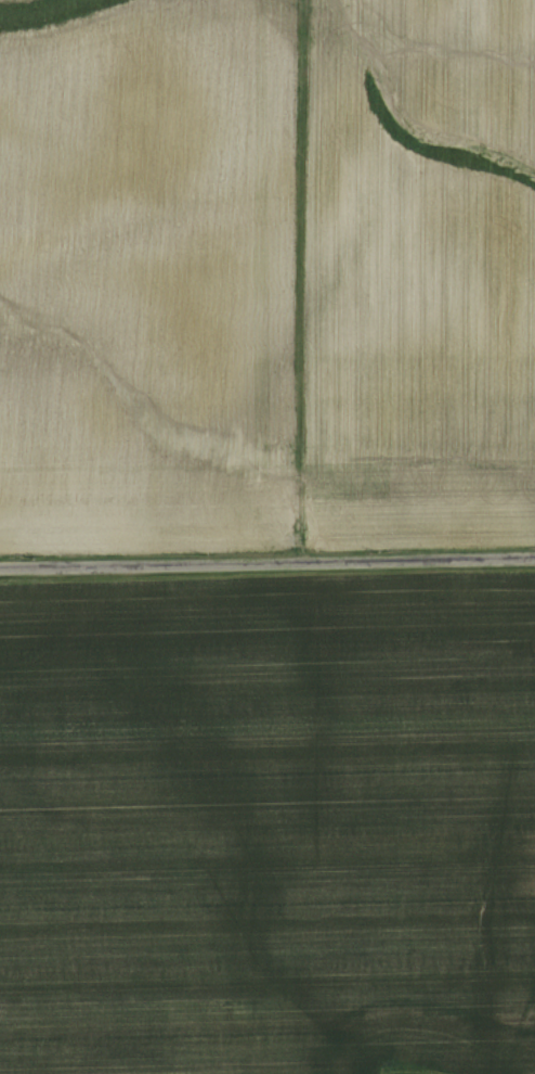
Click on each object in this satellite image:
road: (267, 561)

